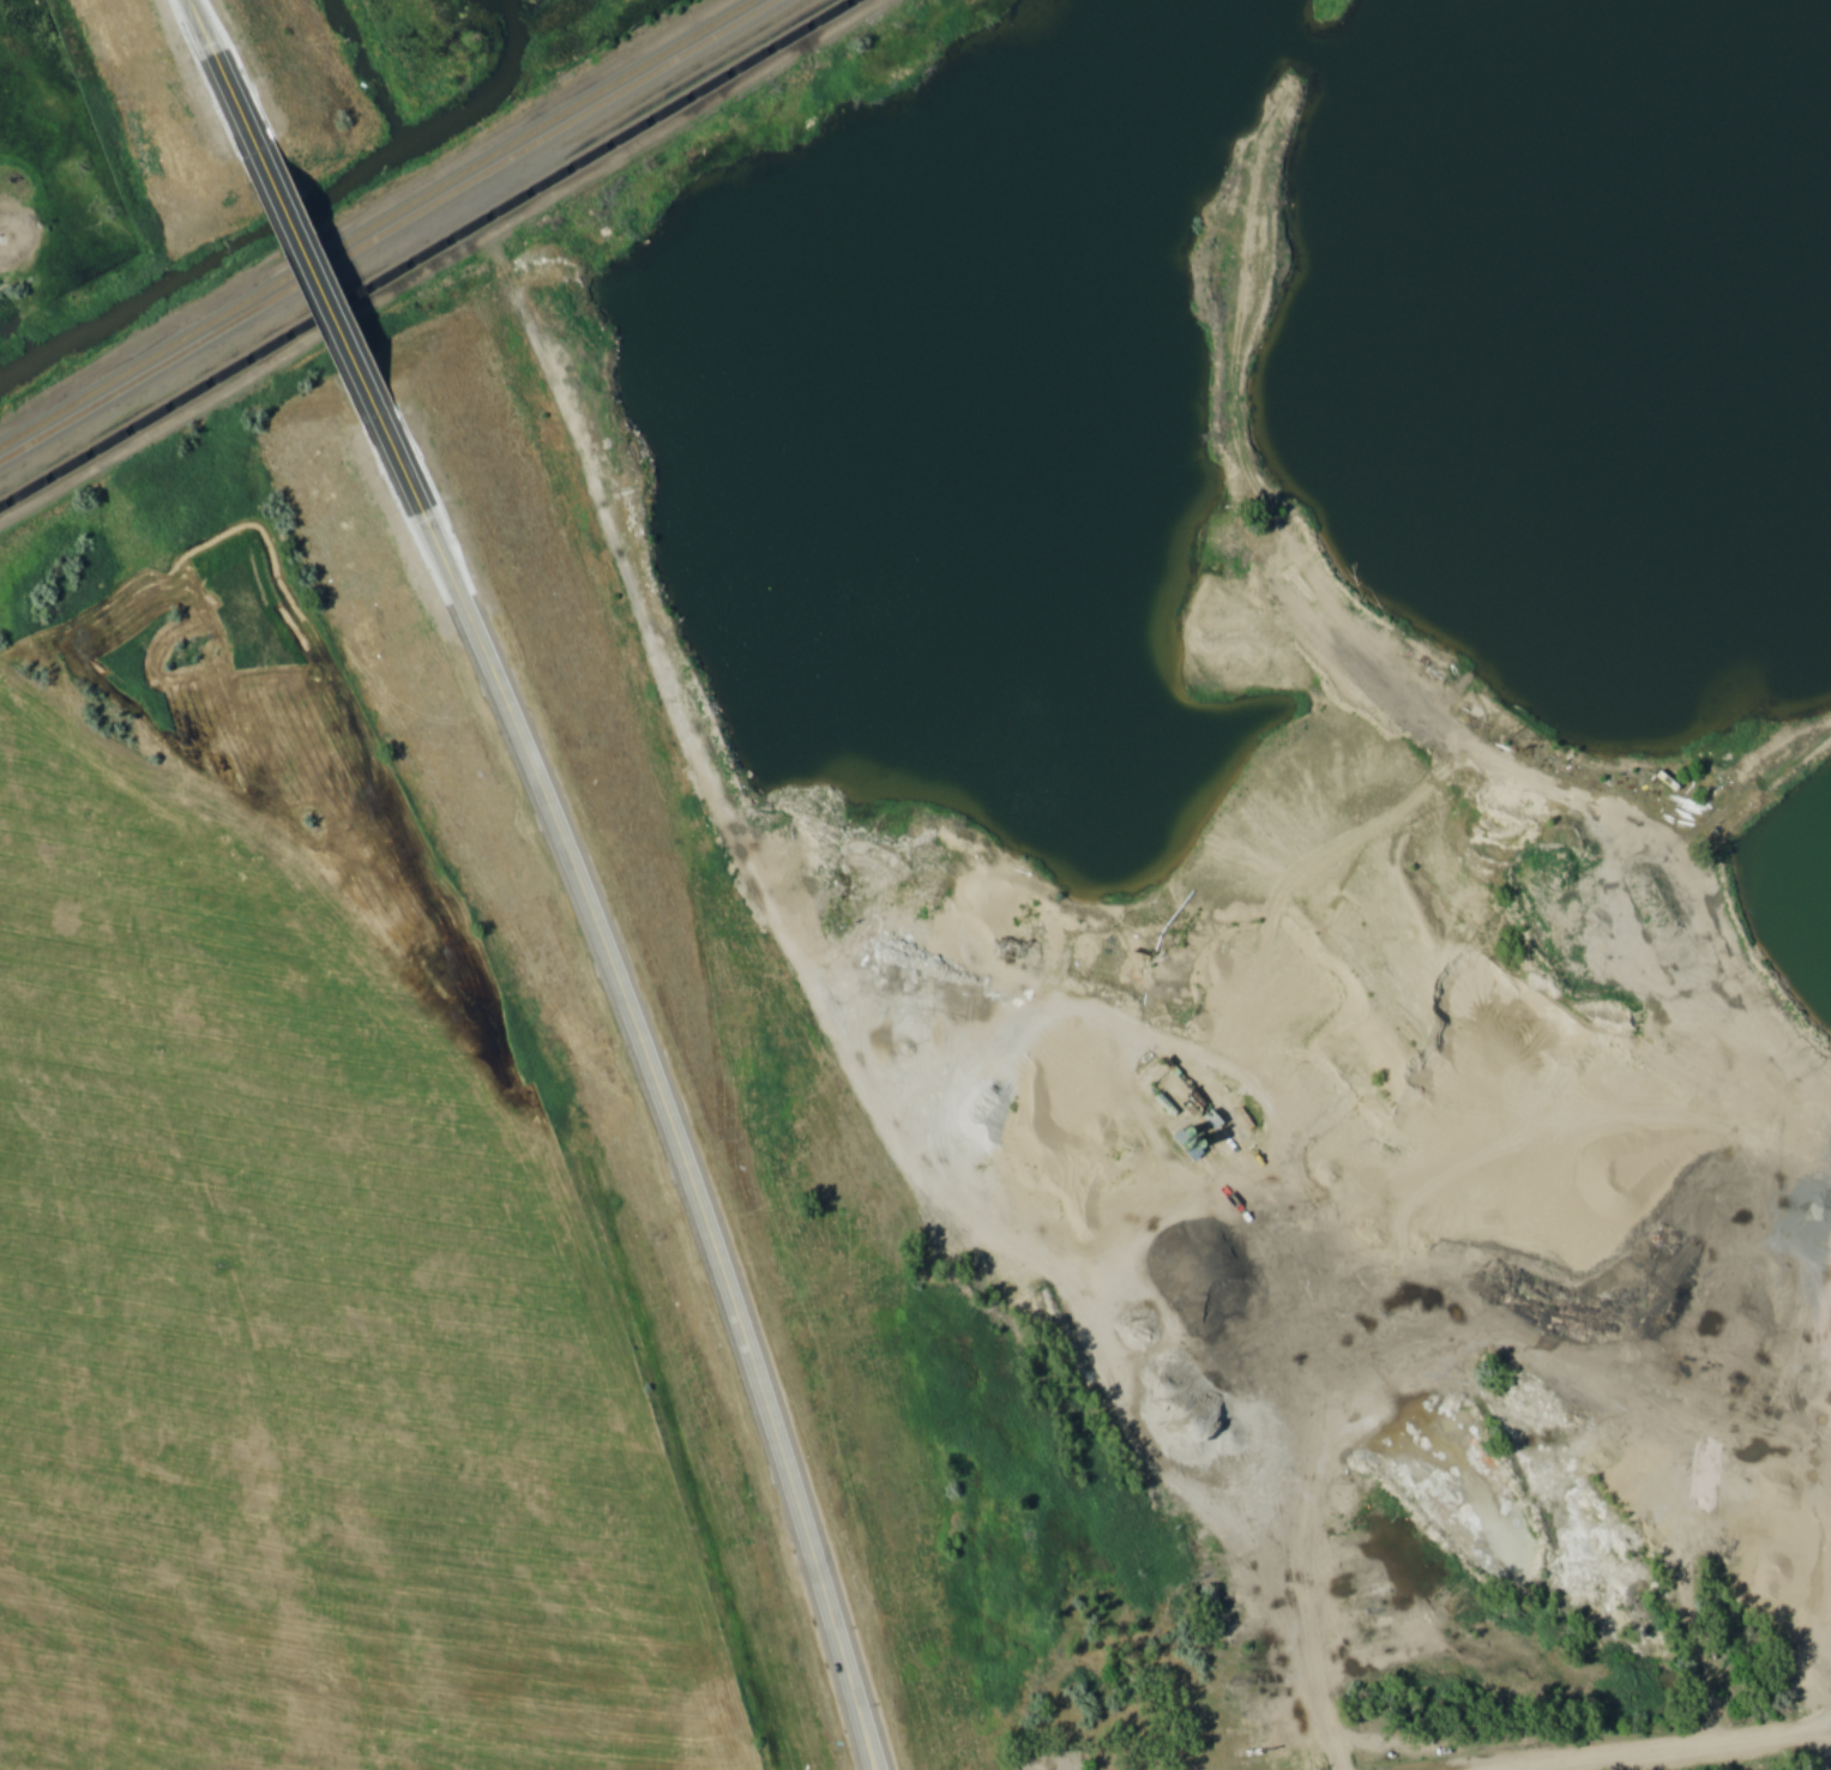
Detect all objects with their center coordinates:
road: (224, 65)
railway: (380, 224)
railway: (392, 231)
railway: (427, 254)
road: (324, 278)
road: (740, 827)
road: (662, 1088)
road: (1680, 1748)

